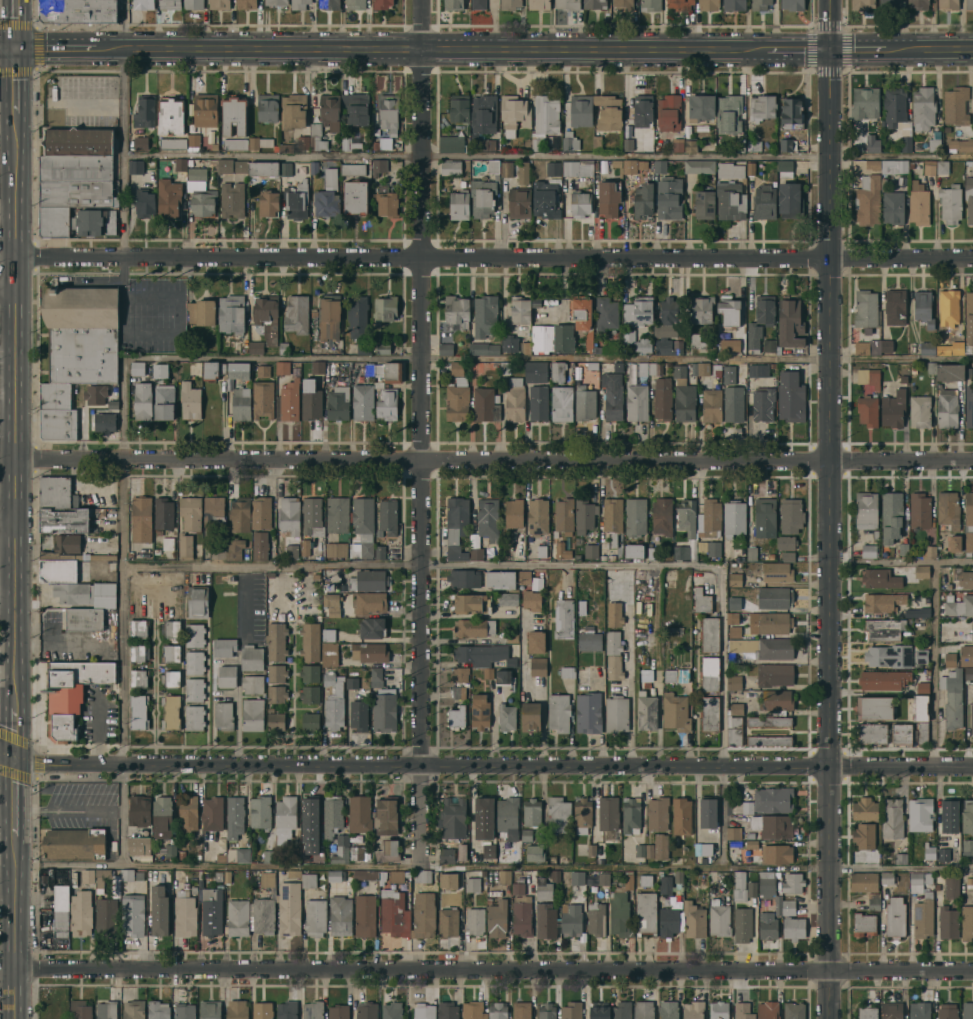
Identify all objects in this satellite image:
building: (889, 1)
building: (276, 2)
building: (595, 3)
building: (143, 4)
building: (170, 4)
building: (193, 4)
building: (220, 4)
building: (246, 4)
building: (299, 4)
building: (329, 4)
building: (355, 4)
building: (382, 4)
building: (479, 4)
building: (509, 4)
building: (539, 4)
building: (568, 4)
building: (681, 4)
building: (708, 4)
building: (761, 4)
building: (862, 4)
building: (918, 4)
building: (948, 4)
building: (969, 4)
building: (453, 5)
building: (623, 5)
building: (650, 5)
building: (734, 5)
building: (792, 5)
building: (79, 11)
road: (124, 23)
road: (15, 24)
road: (627, 45)
road: (792, 45)
traffic signals: (827, 45)
road: (858, 45)
road: (931, 45)
road: (388, 46)
road: (459, 46)
road: (225, 47)
road: (8, 48)
traffic signals: (16, 48)
road: (56, 48)
road: (16, 82)
building: (865, 103)
building: (956, 105)
building: (701, 106)
building: (894, 106)
building: (268, 107)
building: (762, 107)
building: (356, 108)
building: (459, 108)
building: (923, 108)
building: (205, 110)
building: (330, 110)
building: (581, 110)
building: (643, 110)
building: (144, 111)
building: (293, 111)
building: (609, 112)
building: (669, 112)
building: (389, 113)
building: (514, 113)
building: (791, 113)
building: (483, 114)
building: (729, 114)
building: (171, 115)
building: (234, 115)
building: (545, 120)
building: (317, 138)
building: (193, 140)
building: (77, 141)
building: (570, 141)
building: (141, 142)
building: (260, 142)
building: (303, 142)
building: (346, 142)
building: (173, 143)
building: (385, 143)
building: (597, 143)
building: (235, 144)
building: (452, 144)
building: (482, 144)
building: (628, 144)
building: (786, 144)
building: (906, 144)
building: (934, 144)
building: (375, 145)
building: (691, 145)
building: (753, 145)
building: (873, 145)
building: (961, 145)
building: (677, 146)
building: (286, 147)
building: (276, 148)
road: (125, 149)
road: (548, 157)
building: (188, 161)
building: (617, 163)
building: (180, 164)
building: (643, 164)
building: (873, 164)
building: (911, 165)
building: (136, 166)
building: (225, 166)
building: (241, 166)
building: (378, 166)
building: (629, 166)
building: (660, 166)
building: (700, 166)
building: (894, 166)
building: (314, 167)
building: (450, 167)
building: (929, 167)
building: (942, 167)
building: (76, 168)
building: (264, 168)
building: (751, 168)
building: (785, 168)
building: (285, 169)
building: (353, 169)
building: (553, 169)
building: (577, 169)
building: (730, 169)
building: (516, 170)
building: (620, 172)
building: (254, 182)
building: (884, 185)
building: (484, 192)
building: (75, 193)
building: (201, 194)
building: (328, 195)
building: (168, 197)
building: (355, 197)
building: (609, 197)
building: (669, 198)
building: (969, 198)
building: (232, 199)
building: (545, 199)
building: (296, 200)
building: (643, 200)
building: (790, 200)
building: (868, 200)
building: (386, 201)
building: (730, 201)
building: (519, 202)
building: (764, 202)
building: (145, 203)
building: (268, 203)
building: (581, 203)
building: (950, 203)
building: (459, 204)
building: (704, 204)
building: (919, 204)
building: (893, 207)
building: (111, 221)
building: (69, 222)
road: (495, 251)
road: (8, 280)
road: (180, 307)
building: (895, 307)
building: (923, 307)
building: (949, 307)
building: (865, 308)
building: (385, 309)
building: (702, 309)
building: (642, 310)
building: (580, 311)
building: (668, 311)
building: (729, 311)
building: (202, 312)
building: (313, 312)
building: (456, 312)
building: (540, 312)
building: (556, 312)
building: (565, 312)
building: (231, 314)
building: (297, 314)
building: (485, 315)
building: (606, 315)
building: (266, 316)
building: (357, 316)
building: (969, 317)
building: (329, 318)
building: (760, 320)
building: (790, 322)
building: (517, 323)
building: (665, 330)
building: (81, 333)
building: (680, 335)
building: (628, 336)
building: (563, 338)
building: (699, 340)
building: (589, 341)
building: (729, 342)
building: (942, 344)
building: (769, 345)
building: (364, 346)
building: (643, 346)
building: (663, 346)
building: (887, 346)
building: (256, 347)
building: (957, 347)
building: (283, 348)
building: (383, 348)
building: (444, 348)
building: (484, 348)
building: (597, 348)
building: (862, 348)
building: (927, 348)
road: (8, 349)
building: (618, 351)
road: (551, 358)
building: (619, 365)
building: (774, 365)
building: (494, 366)
building: (592, 366)
building: (283, 367)
building: (317, 367)
building: (476, 367)
building: (931, 367)
building: (136, 368)
building: (370, 368)
building: (456, 368)
building: (505, 368)
building: (652, 368)
building: (700, 368)
building: (213, 369)
building: (642, 369)
building: (238, 370)
building: (379, 370)
building: (717, 370)
building: (758, 370)
building: (914, 370)
building: (160, 371)
building: (263, 371)
building: (558, 371)
building: (393, 372)
building: (536, 372)
building: (950, 372)
building: (968, 372)
building: (729, 374)
building: (868, 377)
building: (904, 379)
building: (643, 380)
building: (95, 394)
building: (612, 395)
building: (683, 395)
building: (55, 396)
building: (791, 397)
building: (514, 399)
building: (663, 399)
building: (190, 400)
building: (263, 400)
building: (311, 400)
building: (457, 400)
building: (142, 401)
building: (289, 401)
building: (164, 402)
building: (363, 402)
building: (386, 402)
building: (637, 402)
building: (241, 403)
building: (338, 403)
building: (538, 403)
building: (561, 403)
building: (763, 403)
building: (112, 404)
building: (485, 404)
building: (585, 404)
building: (733, 404)
building: (712, 405)
building: (969, 406)
building: (893, 408)
building: (947, 409)
building: (868, 410)
road: (16, 411)
building: (919, 412)
building: (58, 423)
building: (105, 423)
road: (421, 432)
road: (494, 459)
building: (54, 492)
building: (969, 508)
road: (827, 509)
building: (948, 509)
building: (866, 510)
building: (920, 510)
building: (214, 511)
building: (261, 512)
building: (163, 513)
building: (190, 513)
building: (513, 513)
road: (8, 514)
building: (239, 514)
building: (311, 514)
building: (338, 514)
building: (564, 514)
building: (290, 515)
building: (388, 515)
building: (584, 515)
building: (662, 515)
building: (791, 515)
building: (537, 516)
building: (635, 516)
building: (765, 516)
building: (891, 516)
building: (687, 517)
building: (488, 518)
building: (734, 518)
building: (141, 519)
building: (612, 519)
building: (710, 519)
building: (64, 520)
building: (456, 526)
building: (362, 527)
building: (159, 531)
building: (875, 534)
building: (578, 541)
building: (786, 542)
building: (969, 542)
building: (168, 543)
building: (956, 543)
building: (260, 545)
building: (185, 546)
building: (97, 547)
building: (305, 547)
building: (64, 548)
building: (235, 548)
building: (710, 548)
building: (903, 548)
building: (336, 549)
building: (562, 550)
building: (157, 551)
building: (291, 551)
building: (379, 551)
building: (541, 551)
building: (591, 551)
building: (634, 551)
building: (870, 551)
building: (930, 551)
building: (217, 552)
building: (682, 552)
building: (652, 553)
building: (752, 553)
building: (130, 554)
building: (476, 554)
building: (771, 556)
building: (788, 556)
building: (578, 557)
building: (603, 557)
road: (900, 562)
road: (572, 564)
road: (272, 566)
building: (63, 570)
building: (777, 571)
building: (922, 571)
building: (271, 574)
building: (260, 576)
building: (524, 577)
building: (963, 577)
building: (464, 578)
building: (880, 578)
building: (500, 579)
building: (735, 579)
building: (368, 580)
building: (949, 586)
building: (343, 587)
building: (73, 592)
building: (197, 593)
building: (738, 597)
building: (775, 597)
building: (508, 599)
building: (531, 600)
building: (701, 601)
building: (883, 602)
building: (370, 603)
building: (471, 603)
building: (332, 604)
building: (958, 605)
road: (124, 608)
building: (912, 612)
building: (614, 614)
building: (732, 617)
building: (318, 618)
building: (563, 618)
building: (84, 619)
building: (771, 622)
building: (372, 627)
building: (473, 627)
building: (138, 628)
building: (171, 628)
building: (674, 629)
building: (884, 629)
building: (735, 631)
building: (972, 631)
building: (709, 634)
building: (194, 635)
building: (328, 635)
building: (512, 638)
building: (927, 638)
building: (947, 638)
building: (589, 640)
building: (276, 641)
building: (309, 642)
building: (536, 642)
building: (613, 642)
building: (224, 647)
building: (764, 647)
road: (58, 650)
building: (139, 652)
building: (369, 652)
building: (170, 653)
building: (329, 654)
building: (483, 655)
building: (966, 655)
building: (889, 656)
building: (921, 656)
building: (251, 658)
building: (950, 659)
building: (194, 662)
road: (937, 663)
building: (538, 666)
building: (614, 667)
building: (944, 668)
building: (567, 672)
building: (277, 673)
building: (309, 673)
building: (488, 673)
building: (969, 673)
building: (459, 674)
building: (710, 674)
building: (774, 674)
building: (676, 675)
building: (226, 676)
building: (377, 677)
building: (504, 677)
building: (138, 678)
building: (171, 678)
building: (883, 679)
building: (352, 682)
building: (734, 682)
building: (253, 684)
building: (649, 687)
building: (923, 687)
building: (194, 689)
road: (629, 689)
building: (459, 691)
building: (71, 693)
building: (277, 694)
building: (309, 694)
building: (953, 699)
building: (778, 701)
building: (334, 703)
building: (874, 707)
building: (920, 707)
building: (735, 709)
building: (270, 710)
building: (480, 711)
building: (646, 711)
building: (139, 712)
building: (170, 712)
building: (385, 712)
building: (559, 712)
building: (589, 712)
building: (676, 712)
building: (710, 713)
building: (253, 714)
building: (617, 714)
building: (359, 715)
building: (223, 716)
building: (531, 716)
building: (971, 716)
building: (194, 717)
building: (456, 717)
building: (507, 717)
road: (722, 720)
building: (770, 721)
building: (276, 722)
building: (310, 722)
road: (15, 730)
building: (734, 731)
building: (770, 731)
building: (872, 733)
building: (922, 733)
building: (902, 734)
building: (769, 740)
traffic signals: (15, 753)
road: (485, 763)
road: (15, 794)
building: (773, 800)
building: (748, 807)
building: (865, 809)
road: (69, 810)
building: (948, 811)
building: (138, 812)
building: (261, 812)
building: (187, 813)
building: (212, 813)
building: (532, 813)
building: (658, 813)
building: (708, 813)
building: (311, 814)
building: (360, 814)
building: (373, 814)
building: (559, 814)
building: (582, 814)
building: (921, 814)
building: (332, 815)
building: (631, 815)
building: (681, 815)
building: (386, 816)
building: (609, 816)
building: (967, 816)
building: (235, 817)
building: (484, 817)
building: (162, 818)
building: (286, 818)
building: (453, 818)
building: (508, 818)
building: (892, 818)
building: (770, 825)
building: (738, 834)
building: (527, 835)
building: (541, 835)
building: (864, 835)
building: (75, 843)
building: (138, 845)
building: (661, 846)
building: (968, 847)
building: (171, 848)
building: (591, 849)
building: (703, 849)
building: (341, 850)
building: (387, 850)
building: (640, 850)
building: (489, 851)
building: (650, 851)
building: (929, 851)
building: (357, 853)
building: (534, 853)
building: (765, 853)
building: (182, 854)
building: (463, 854)
building: (943, 854)
building: (238, 855)
building: (447, 855)
building: (901, 855)
building: (269, 856)
building: (601, 857)
building: (221, 858)
building: (551, 859)
building: (517, 860)
building: (704, 860)
road: (493, 866)
building: (294, 873)
building: (472, 873)
building: (367, 874)
building: (87, 875)
building: (127, 875)
building: (139, 875)
building: (336, 875)
building: (554, 875)
building: (101, 876)
building: (217, 876)
building: (227, 876)
building: (398, 876)
building: (422, 876)
building: (505, 876)
building: (678, 876)
building: (382, 877)
building: (577, 877)
building: (887, 877)
building: (267, 879)
building: (604, 879)
building: (449, 880)
building: (646, 880)
building: (309, 881)
building: (864, 881)
building: (919, 881)
building: (766, 883)
building: (793, 883)
building: (969, 883)
building: (472, 884)
building: (666, 884)
building: (739, 886)
building: (937, 886)
building: (951, 886)
building: (518, 888)
building: (543, 888)
building: (194, 889)
building: (751, 889)
building: (874, 901)
building: (789, 904)
building: (778, 905)
building: (621, 906)
building: (289, 908)
building: (210, 909)
building: (60, 911)
building: (789, 911)
building: (81, 913)
building: (394, 913)
building: (646, 913)
building: (185, 914)
building: (133, 915)
building: (340, 915)
building: (365, 915)
building: (263, 916)
building: (423, 916)
building: (522, 916)
building: (923, 916)
building: (106, 917)
building: (158, 917)
building: (315, 917)
building: (895, 917)
building: (238, 918)
building: (497, 918)
building: (596, 918)
building: (719, 918)
building: (572, 919)
building: (694, 920)
building: (475, 921)
building: (547, 921)
building: (668, 921)
building: (448, 922)
building: (948, 922)
building: (966, 922)
building: (743, 924)
building: (864, 924)
road: (13, 926)
building: (768, 926)
building: (793, 928)
road: (493, 972)
building: (133, 1008)
building: (80, 1009)
building: (106, 1009)
building: (157, 1009)
building: (209, 1009)
building: (237, 1009)
building: (287, 1009)
building: (312, 1009)
building: (597, 1009)
building: (644, 1009)
building: (693, 1009)
building: (718, 1009)
building: (768, 1009)
building: (793, 1009)
building: (919, 1009)
building: (184, 1010)
building: (262, 1010)
building: (366, 1010)
building: (392, 1010)
building: (447, 1010)
building: (474, 1010)
building: (498, 1010)
building: (522, 1010)
building: (546, 1010)
building: (571, 1010)
building: (621, 1010)
building: (667, 1010)
building: (742, 1010)
building: (891, 1010)
building: (947, 1010)
building: (967, 1010)
building: (338, 1011)
building: (424, 1011)
building: (867, 1011)

